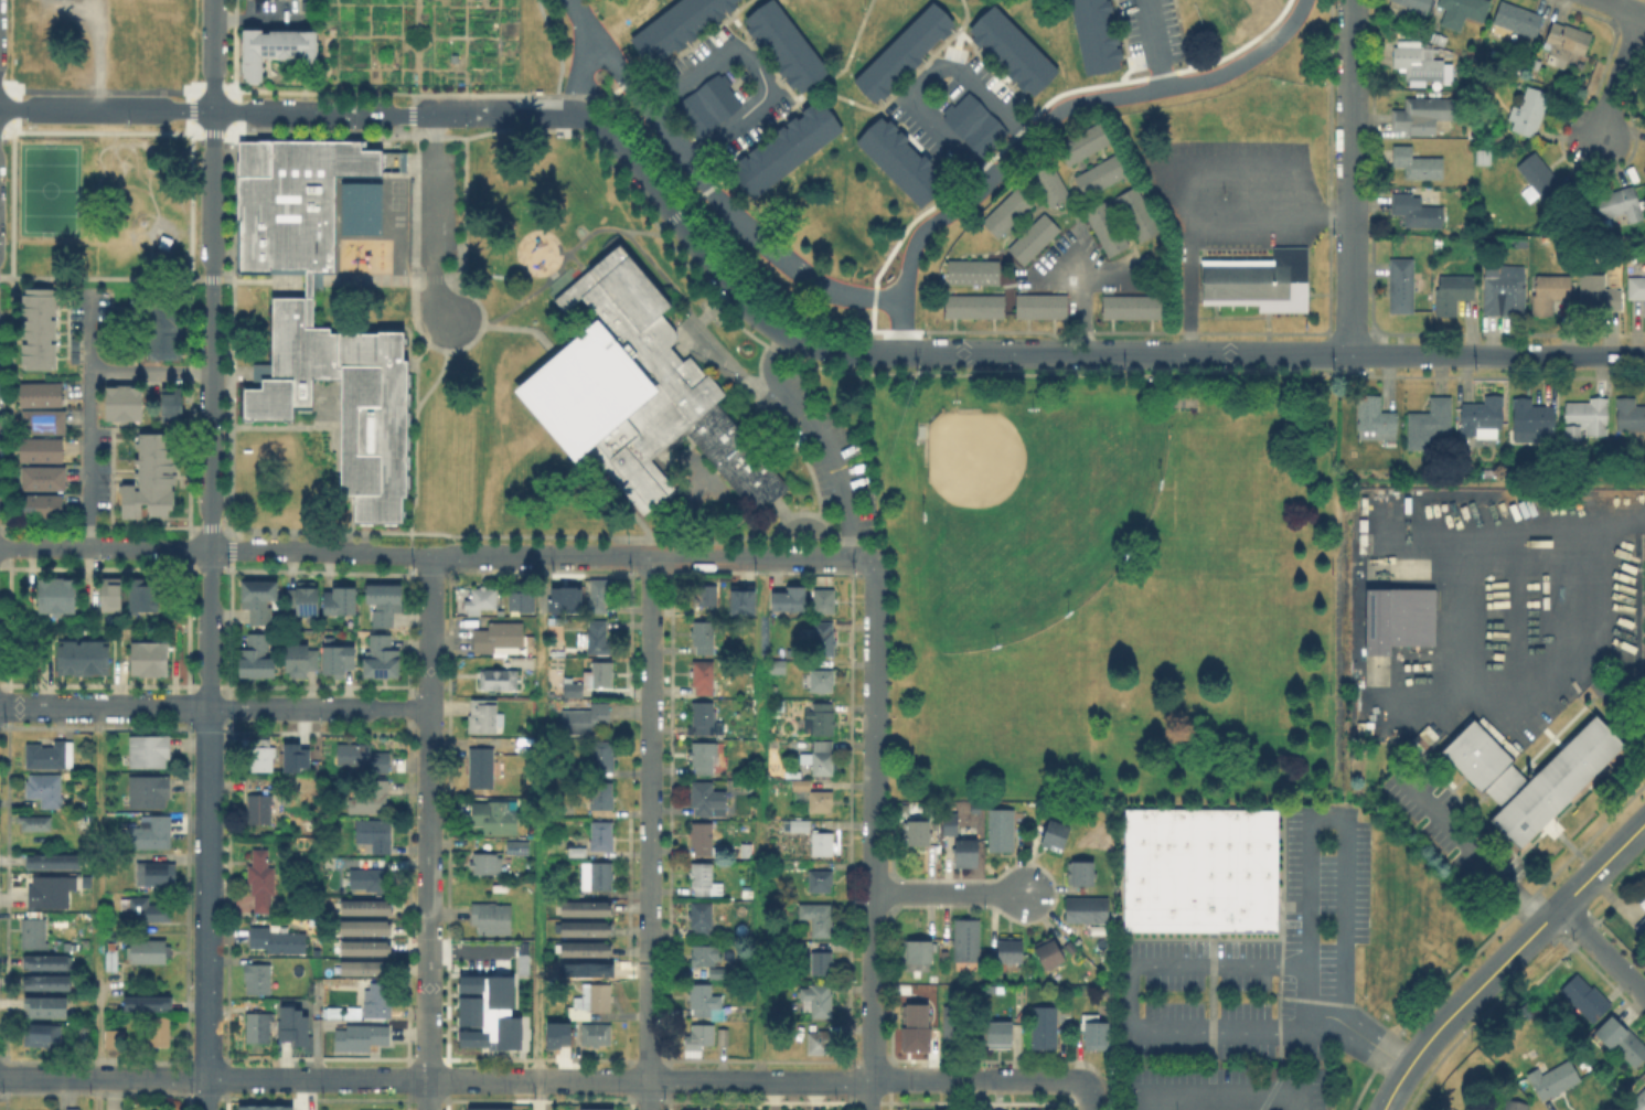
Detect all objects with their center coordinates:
building: (1414, 4)
road: (1626, 7)
road: (299, 9)
building: (1463, 9)
road: (731, 18)
road: (263, 19)
building: (1516, 22)
building: (674, 25)
road: (958, 30)
building: (1093, 34)
building: (1434, 39)
building: (1566, 42)
building: (783, 43)
road: (213, 44)
road: (1153, 44)
building: (275, 49)
building: (901, 49)
building: (1010, 49)
building: (1445, 54)
road: (1241, 60)
building: (1420, 62)
road: (755, 70)
road: (840, 71)
road: (579, 74)
road: (1621, 76)
road: (927, 79)
building: (1417, 84)
road: (609, 96)
building: (706, 102)
road: (862, 106)
road: (106, 108)
building: (1531, 110)
building: (1423, 114)
road: (404, 115)
building: (973, 122)
building: (1082, 140)
building: (782, 147)
building: (898, 158)
building: (1418, 163)
road: (1238, 166)
building: (1644, 170)
building: (1099, 172)
building: (1540, 175)
road: (1353, 178)
road: (705, 180)
road: (982, 180)
building: (1050, 182)
park: (396, 185)
park: (47, 188)
building: (287, 200)
park: (395, 201)
park: (104, 202)
building: (1617, 203)
park: (137, 205)
building: (359, 205)
road: (686, 210)
building: (1134, 211)
building: (1004, 212)
building: (1416, 212)
road: (1200, 215)
road: (432, 218)
building: (1104, 226)
building: (1032, 236)
building: (844, 237)
building: (165, 242)
road: (574, 257)
road: (558, 269)
building: (970, 269)
road: (1089, 273)
road: (150, 278)
road: (307, 279)
road: (372, 279)
building: (1260, 287)
building: (1401, 287)
building: (1505, 288)
building: (1635, 288)
building: (1453, 292)
building: (1548, 292)
building: (1599, 292)
building: (971, 303)
building: (1038, 303)
building: (1130, 305)
road: (692, 308)
road: (1077, 313)
building: (35, 327)
building: (162, 331)
road: (837, 350)
road: (1267, 354)
road: (761, 355)
road: (1498, 355)
road: (1183, 371)
road: (150, 372)
building: (637, 389)
building: (41, 395)
building: (339, 396)
building: (1184, 397)
road: (211, 398)
building: (174, 403)
building: (126, 404)
building: (1630, 415)
building: (1482, 416)
road: (88, 418)
building: (1584, 418)
building: (1376, 420)
building: (1532, 420)
building: (44, 423)
building: (1430, 423)
road: (416, 433)
road: (822, 437)
building: (43, 450)
road: (864, 458)
road: (810, 468)
building: (44, 478)
building: (152, 478)
park: (905, 495)
building: (41, 508)
park: (1032, 515)
parking lot: (1644, 541)
road: (214, 548)
road: (650, 555)
parking lot: (1644, 569)
building: (108, 591)
building: (141, 591)
building: (53, 594)
building: (599, 594)
building: (705, 594)
building: (563, 598)
building: (790, 599)
building: (256, 600)
building: (303, 600)
building: (478, 600)
building: (524, 600)
building: (339, 602)
building: (383, 602)
building: (747, 602)
building: (824, 602)
road: (1553, 616)
building: (1399, 622)
road: (651, 625)
road: (429, 631)
building: (703, 634)
building: (498, 637)
building: (598, 637)
building: (823, 639)
road: (1644, 649)
parking lot: (1642, 653)
building: (79, 654)
building: (147, 657)
building: (254, 659)
building: (381, 659)
building: (299, 660)
building: (335, 661)
building: (777, 668)
building: (601, 675)
building: (703, 675)
road: (876, 675)
building: (822, 679)
building: (498, 681)
building: (573, 691)
road: (214, 707)
building: (483, 717)
building: (821, 718)
building: (585, 719)
building: (704, 719)
road: (651, 748)
building: (151, 751)
building: (265, 755)
building: (602, 755)
building: (53, 756)
building: (292, 756)
building: (823, 757)
building: (365, 758)
building: (701, 758)
building: (480, 768)
building: (70, 775)
building: (801, 785)
building: (47, 791)
building: (152, 791)
building: (1532, 794)
building: (373, 797)
building: (601, 797)
building: (707, 800)
building: (820, 802)
building: (263, 810)
building: (494, 815)
road: (760, 819)
building: (86, 821)
building: (39, 824)
building: (951, 824)
building: (798, 826)
building: (1000, 831)
road: (537, 832)
building: (157, 833)
building: (377, 834)
building: (916, 835)
building: (601, 836)
building: (1054, 836)
building: (702, 840)
building: (821, 843)
building: (517, 848)
road: (1311, 852)
road: (1473, 852)
building: (578, 853)
building: (968, 855)
building: (55, 863)
building: (484, 865)
building: (157, 872)
building: (1204, 873)
building: (1078, 875)
building: (600, 876)
building: (701, 879)
building: (265, 880)
building: (371, 880)
road: (650, 880)
building: (819, 880)
building: (52, 893)
road: (317, 893)
road: (949, 893)
building: (1644, 901)
road: (97, 908)
road: (209, 908)
road: (427, 908)
building: (367, 909)
building: (585, 910)
building: (1086, 910)
building: (151, 911)
building: (701, 916)
building: (491, 918)
building: (816, 918)
building: (1642, 927)
building: (367, 930)
building: (584, 931)
building: (35, 932)
building: (965, 938)
building: (279, 941)
building: (60, 944)
building: (367, 950)
building: (585, 951)
road: (874, 951)
road: (1601, 951)
building: (151, 952)
building: (1008, 952)
building: (916, 953)
building: (1047, 956)
road: (1505, 958)
building: (706, 961)
building: (114, 963)
building: (820, 963)
building: (49, 965)
building: (366, 970)
building: (563, 974)
building: (259, 979)
building: (49, 985)
building: (1584, 997)
building: (594, 999)
building: (703, 1000)
building: (818, 1001)
building: (380, 1002)
road: (1134, 1003)
building: (47, 1004)
building: (149, 1004)
building: (485, 1012)
building: (915, 1017)
road: (649, 1018)
building: (287, 1022)
building: (258, 1026)
building: (957, 1026)
building: (1044, 1028)
building: (161, 1031)
building: (555, 1034)
building: (43, 1035)
building: (597, 1035)
building: (722, 1036)
building: (997, 1036)
building: (1094, 1037)
building: (361, 1038)
building: (697, 1039)
building: (115, 1040)
building: (1624, 1040)
building: (818, 1042)
road: (543, 1079)
building: (1553, 1080)
road: (980, 1093)
road: (649, 1096)
road: (1090, 1097)
road: (1229, 1098)
building: (1638, 1101)
building: (1516, 1106)
building: (264, 1107)
building: (70, 1108)
building: (487, 1108)
building: (594, 1108)
building: (365, 1109)
building: (927, 1109)
building: (1003, 1109)

